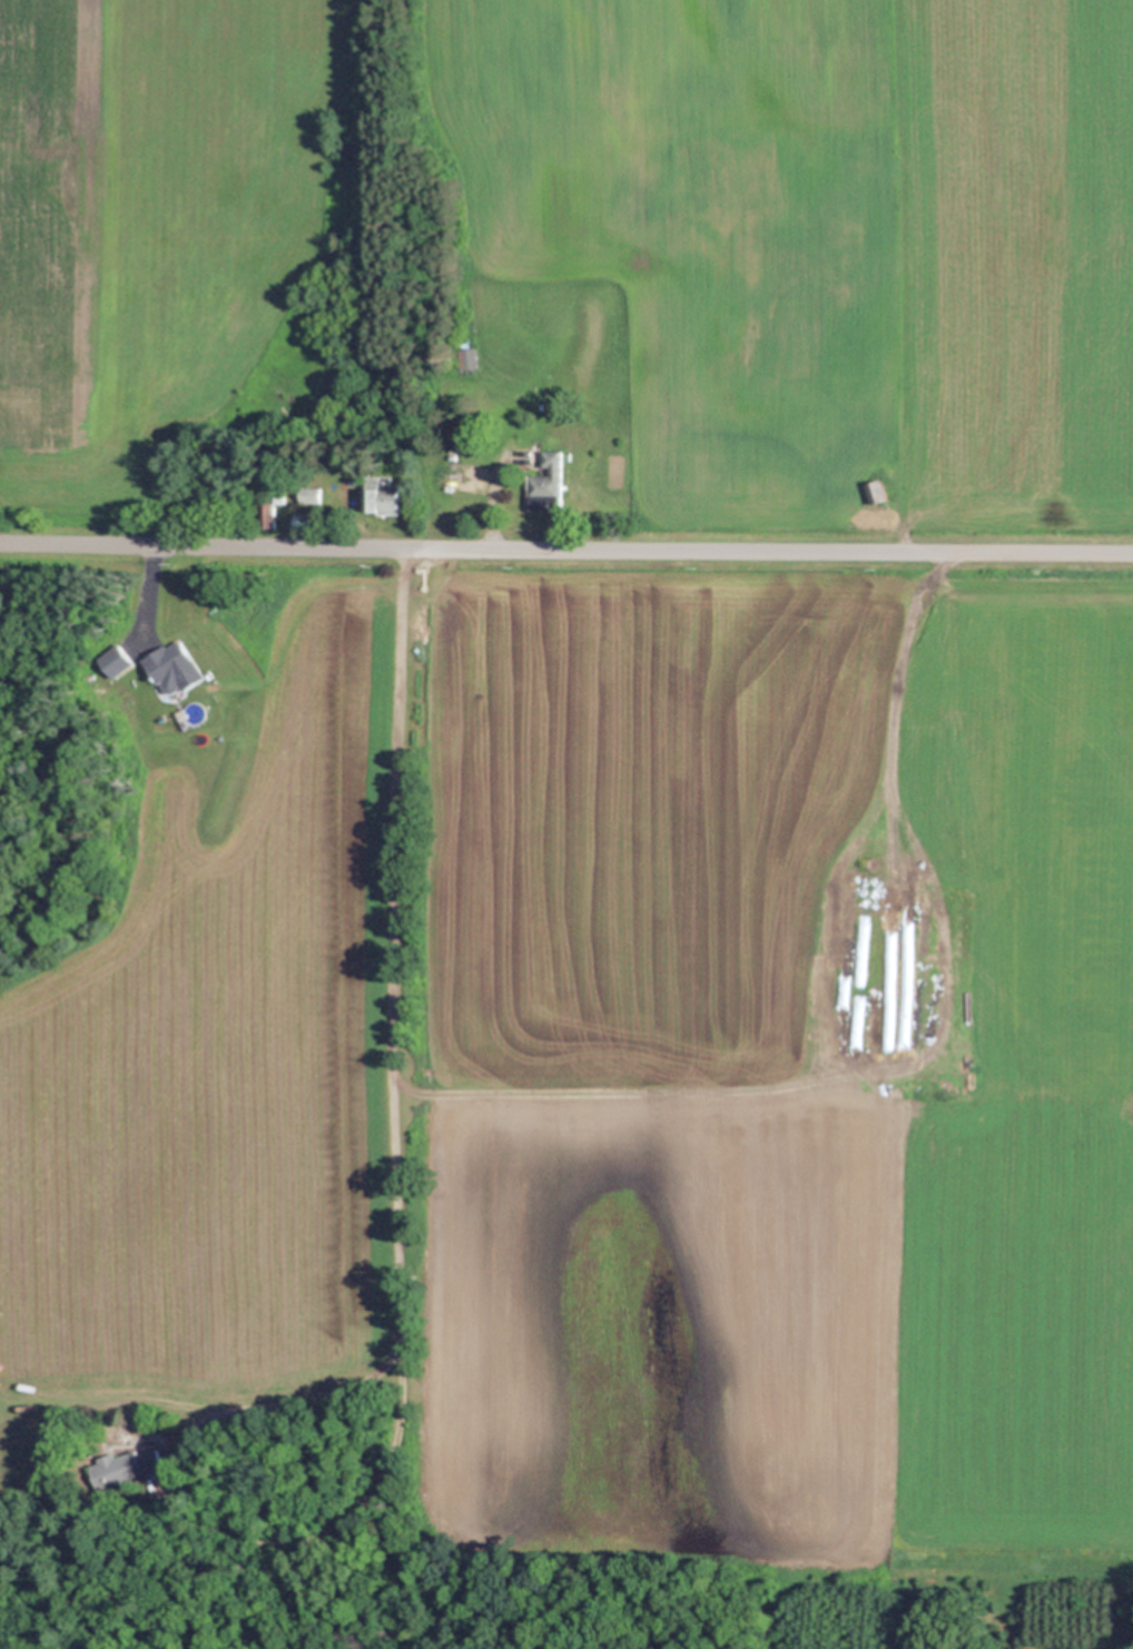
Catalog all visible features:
building: (722, 324)
building: (464, 358)
building: (319, 426)
building: (545, 483)
building: (312, 493)
building: (381, 495)
building: (283, 498)
building: (266, 515)
building: (308, 520)
road: (565, 549)
building: (422, 579)
building: (119, 659)
building: (173, 666)
road: (886, 690)
building: (175, 691)
building: (424, 1074)
road: (406, 1293)
building: (128, 1467)
building: (194, 1469)
building: (597, 1554)

